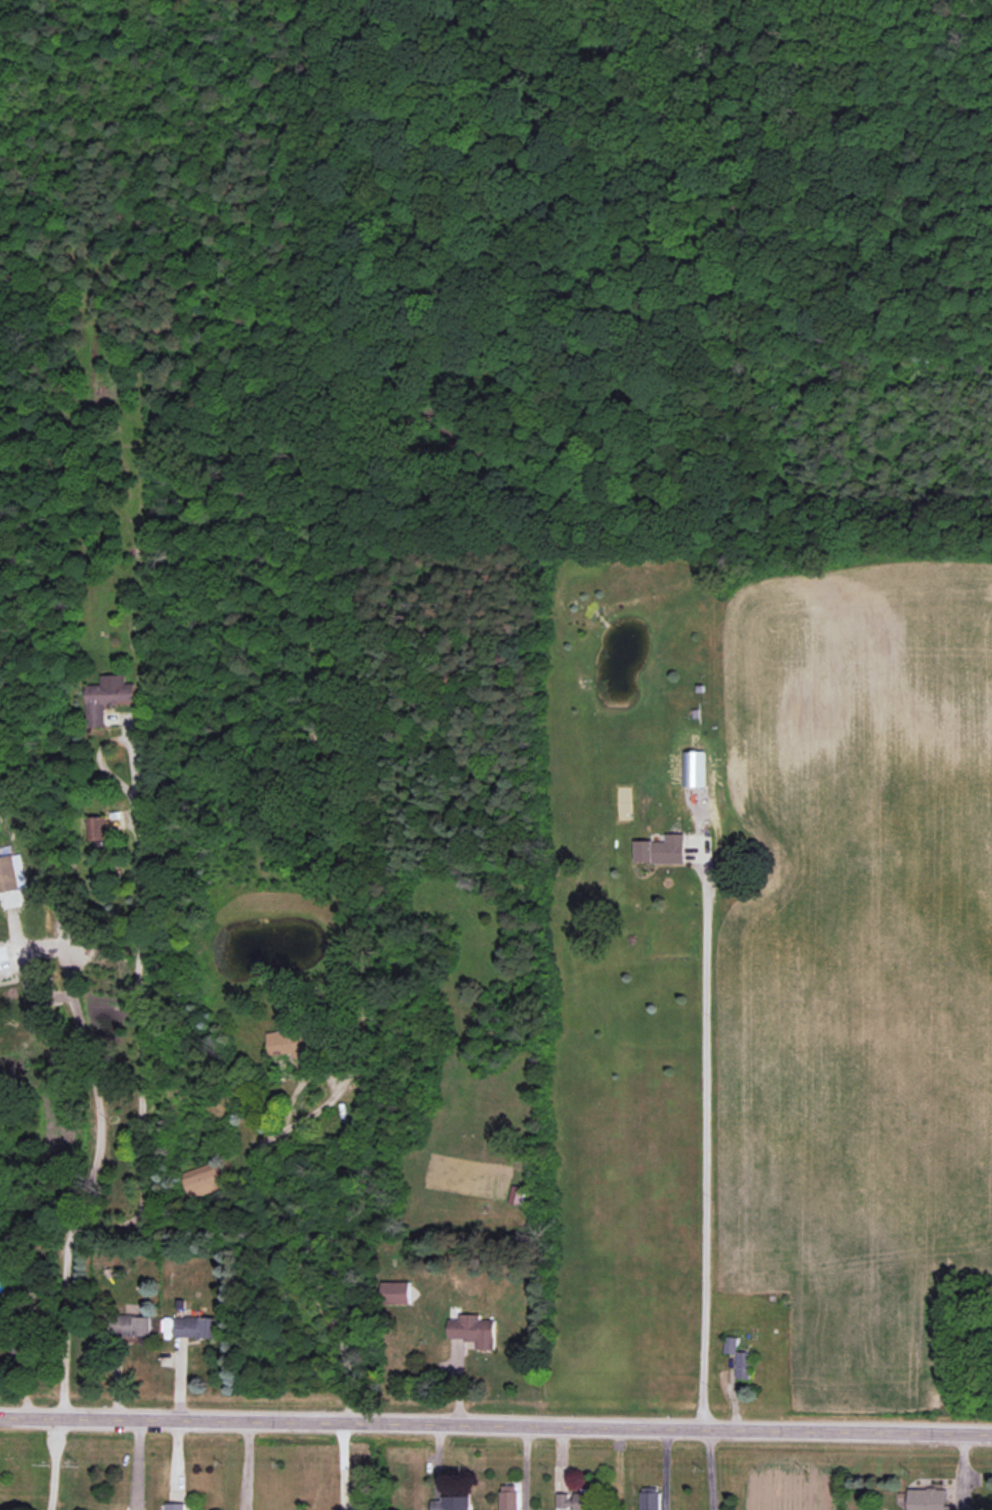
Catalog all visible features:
building: (106, 697)
building: (96, 828)
building: (661, 850)
building: (8, 874)
road: (140, 1010)
building: (292, 1043)
road: (702, 1134)
road: (94, 1166)
building: (205, 1182)
building: (517, 1195)
road: (296, 1250)
building: (395, 1292)
building: (4, 1314)
building: (133, 1325)
building: (195, 1326)
building: (472, 1330)
building: (730, 1345)
building: (744, 1365)
road: (496, 1422)
road: (51, 1462)
road: (662, 1467)
road: (708, 1468)
building: (509, 1497)
building: (650, 1498)
building: (927, 1499)
building: (452, 1503)
building: (177, 1506)

